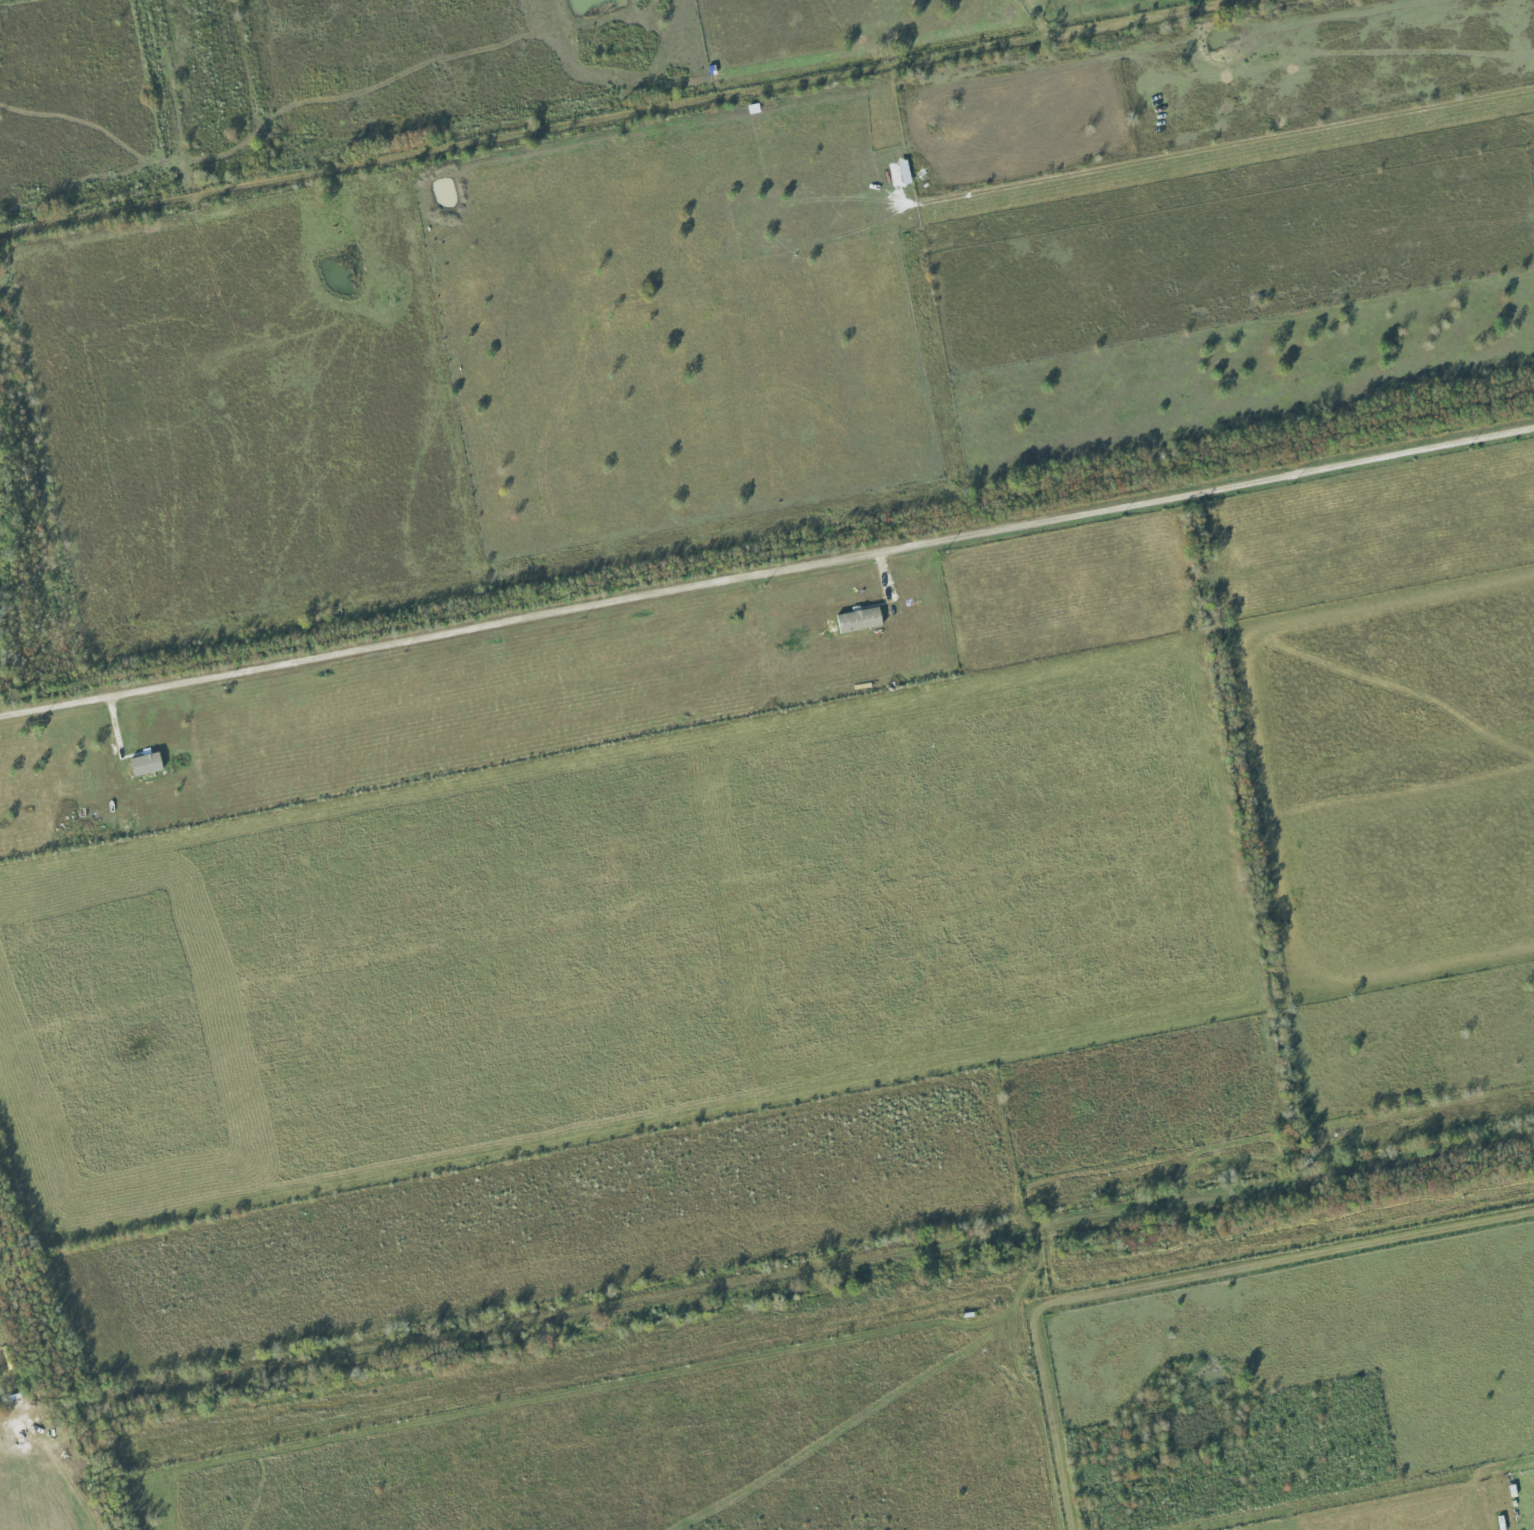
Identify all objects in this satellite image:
road: (767, 578)
building: (861, 619)
building: (148, 764)
road: (1524, 1465)

